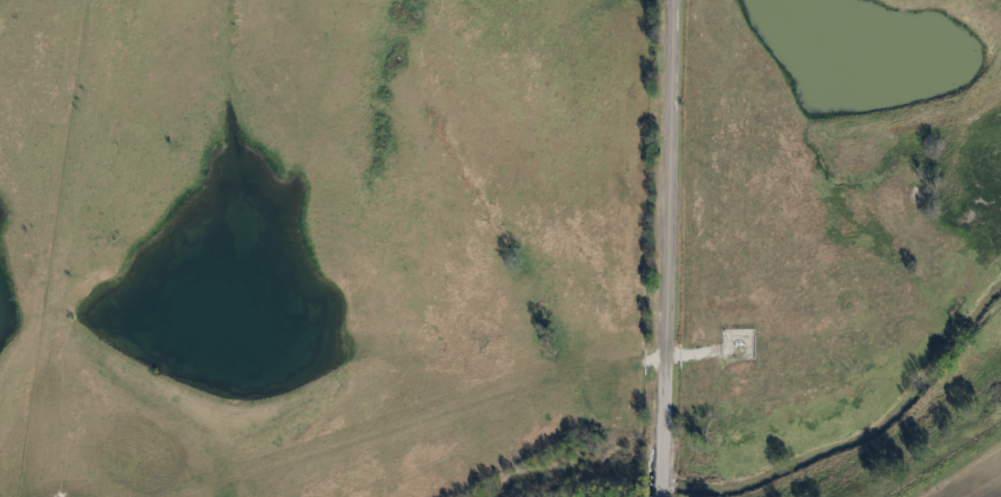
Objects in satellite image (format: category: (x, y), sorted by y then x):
road: (676, 248)

